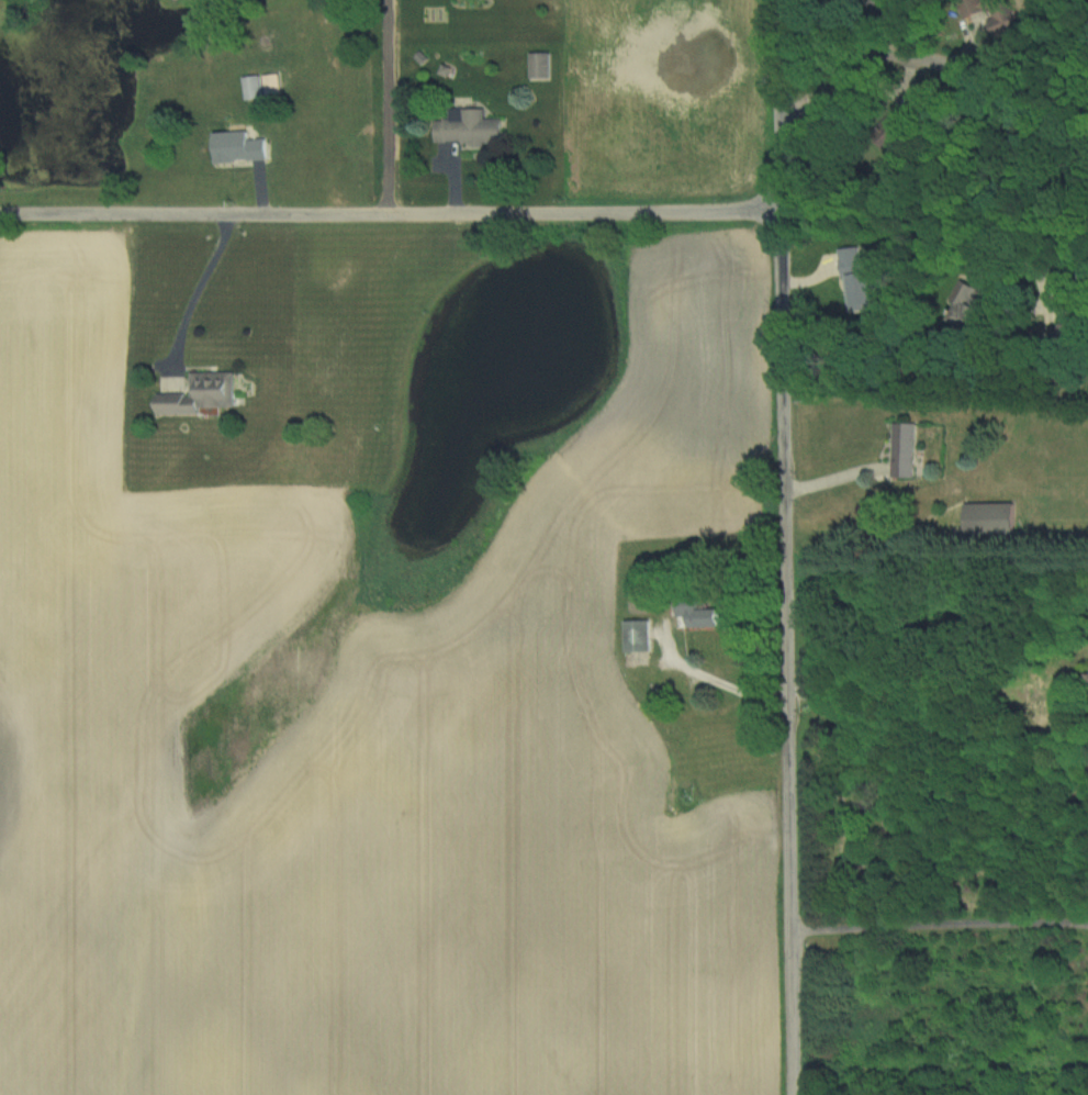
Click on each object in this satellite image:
building: (878, 3)
building: (992, 14)
building: (253, 86)
road: (985, 97)
building: (469, 129)
building: (240, 146)
road: (390, 215)
building: (860, 279)
building: (967, 288)
road: (197, 292)
building: (1052, 333)
building: (202, 394)
building: (906, 448)
building: (990, 519)
road: (785, 547)
building: (706, 614)
building: (638, 636)
road: (710, 689)
road: (922, 740)
road: (940, 932)

